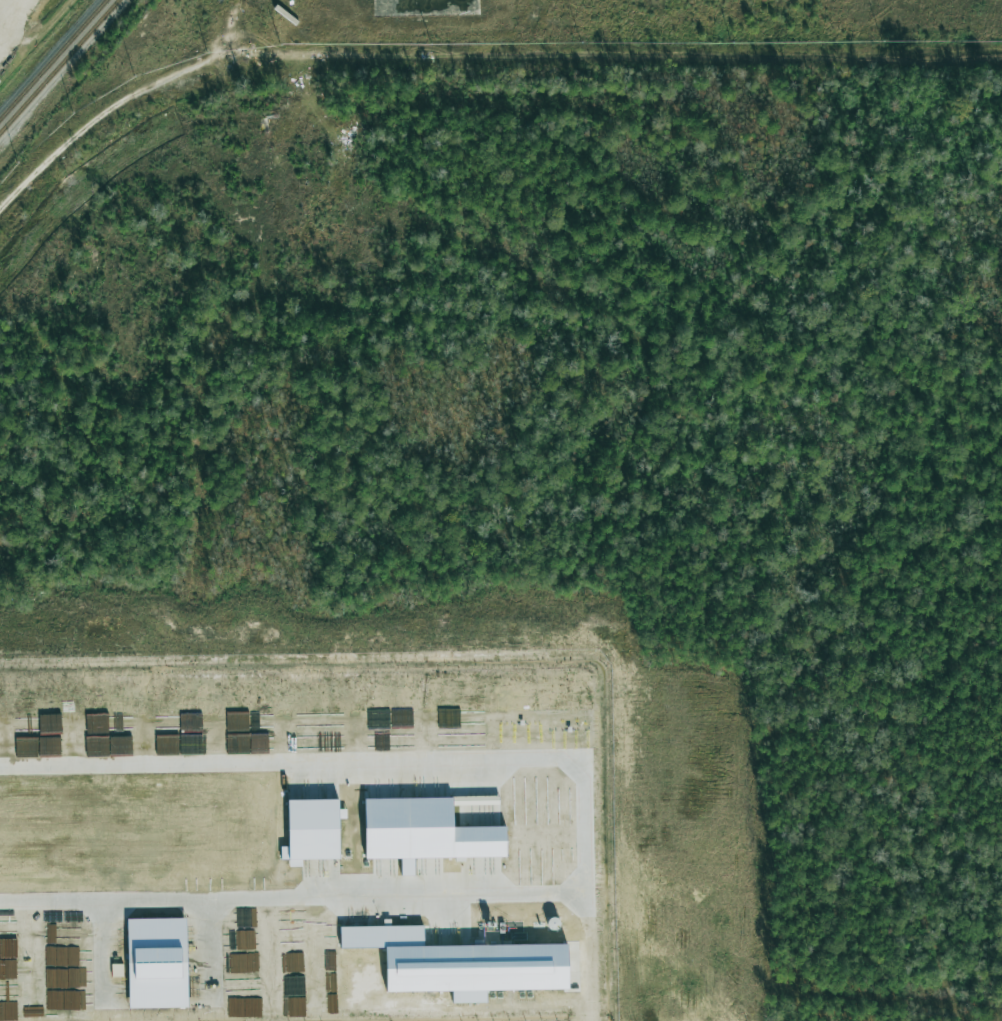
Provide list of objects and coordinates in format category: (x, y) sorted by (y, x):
railway: (53, 59)
railway: (58, 65)
building: (313, 830)
road: (586, 830)
building: (425, 832)
road: (589, 959)
building: (157, 963)
building: (459, 963)

